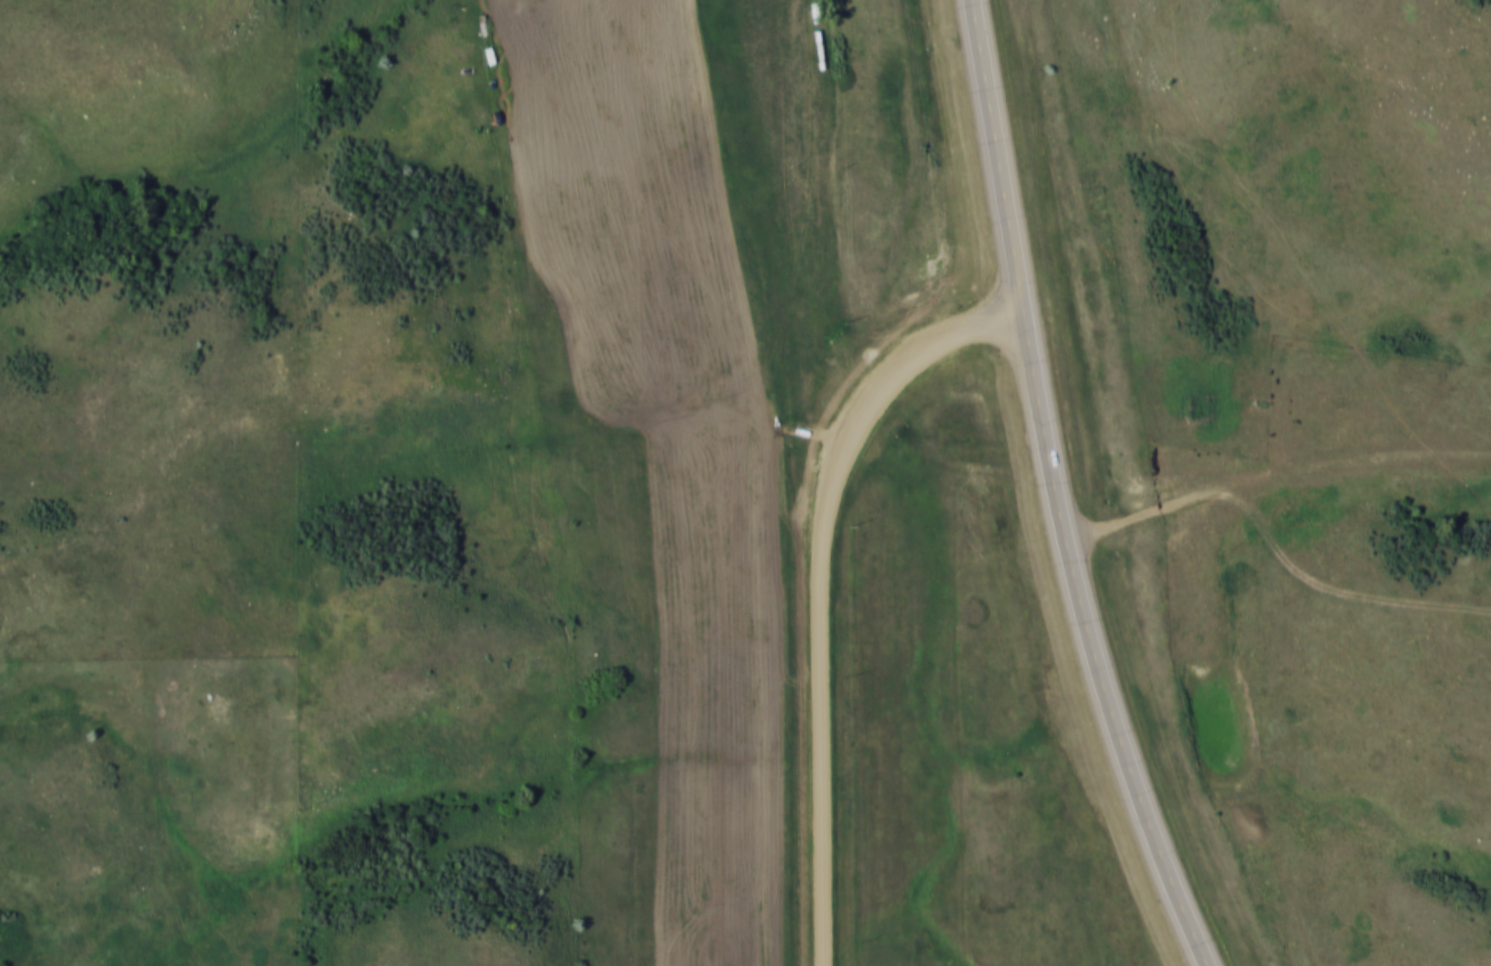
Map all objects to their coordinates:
road: (998, 158)
road: (789, 219)
road: (1274, 478)
road: (820, 585)
road: (1330, 591)
road: (1093, 647)

